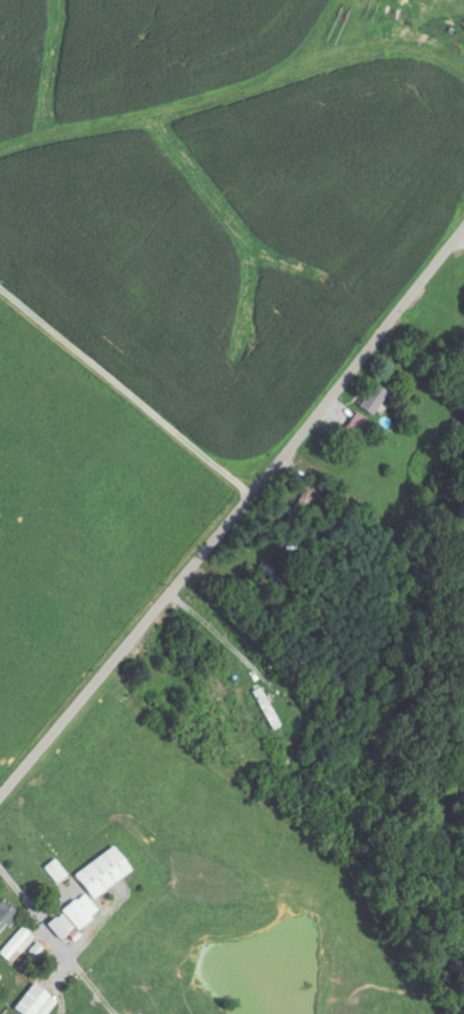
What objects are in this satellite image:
road: (463, 230)
road: (133, 374)
building: (376, 400)
building: (358, 425)
road: (236, 517)
building: (57, 872)
building: (105, 872)
building: (82, 911)
building: (7, 915)
building: (63, 927)
building: (18, 945)
building: (37, 1001)

